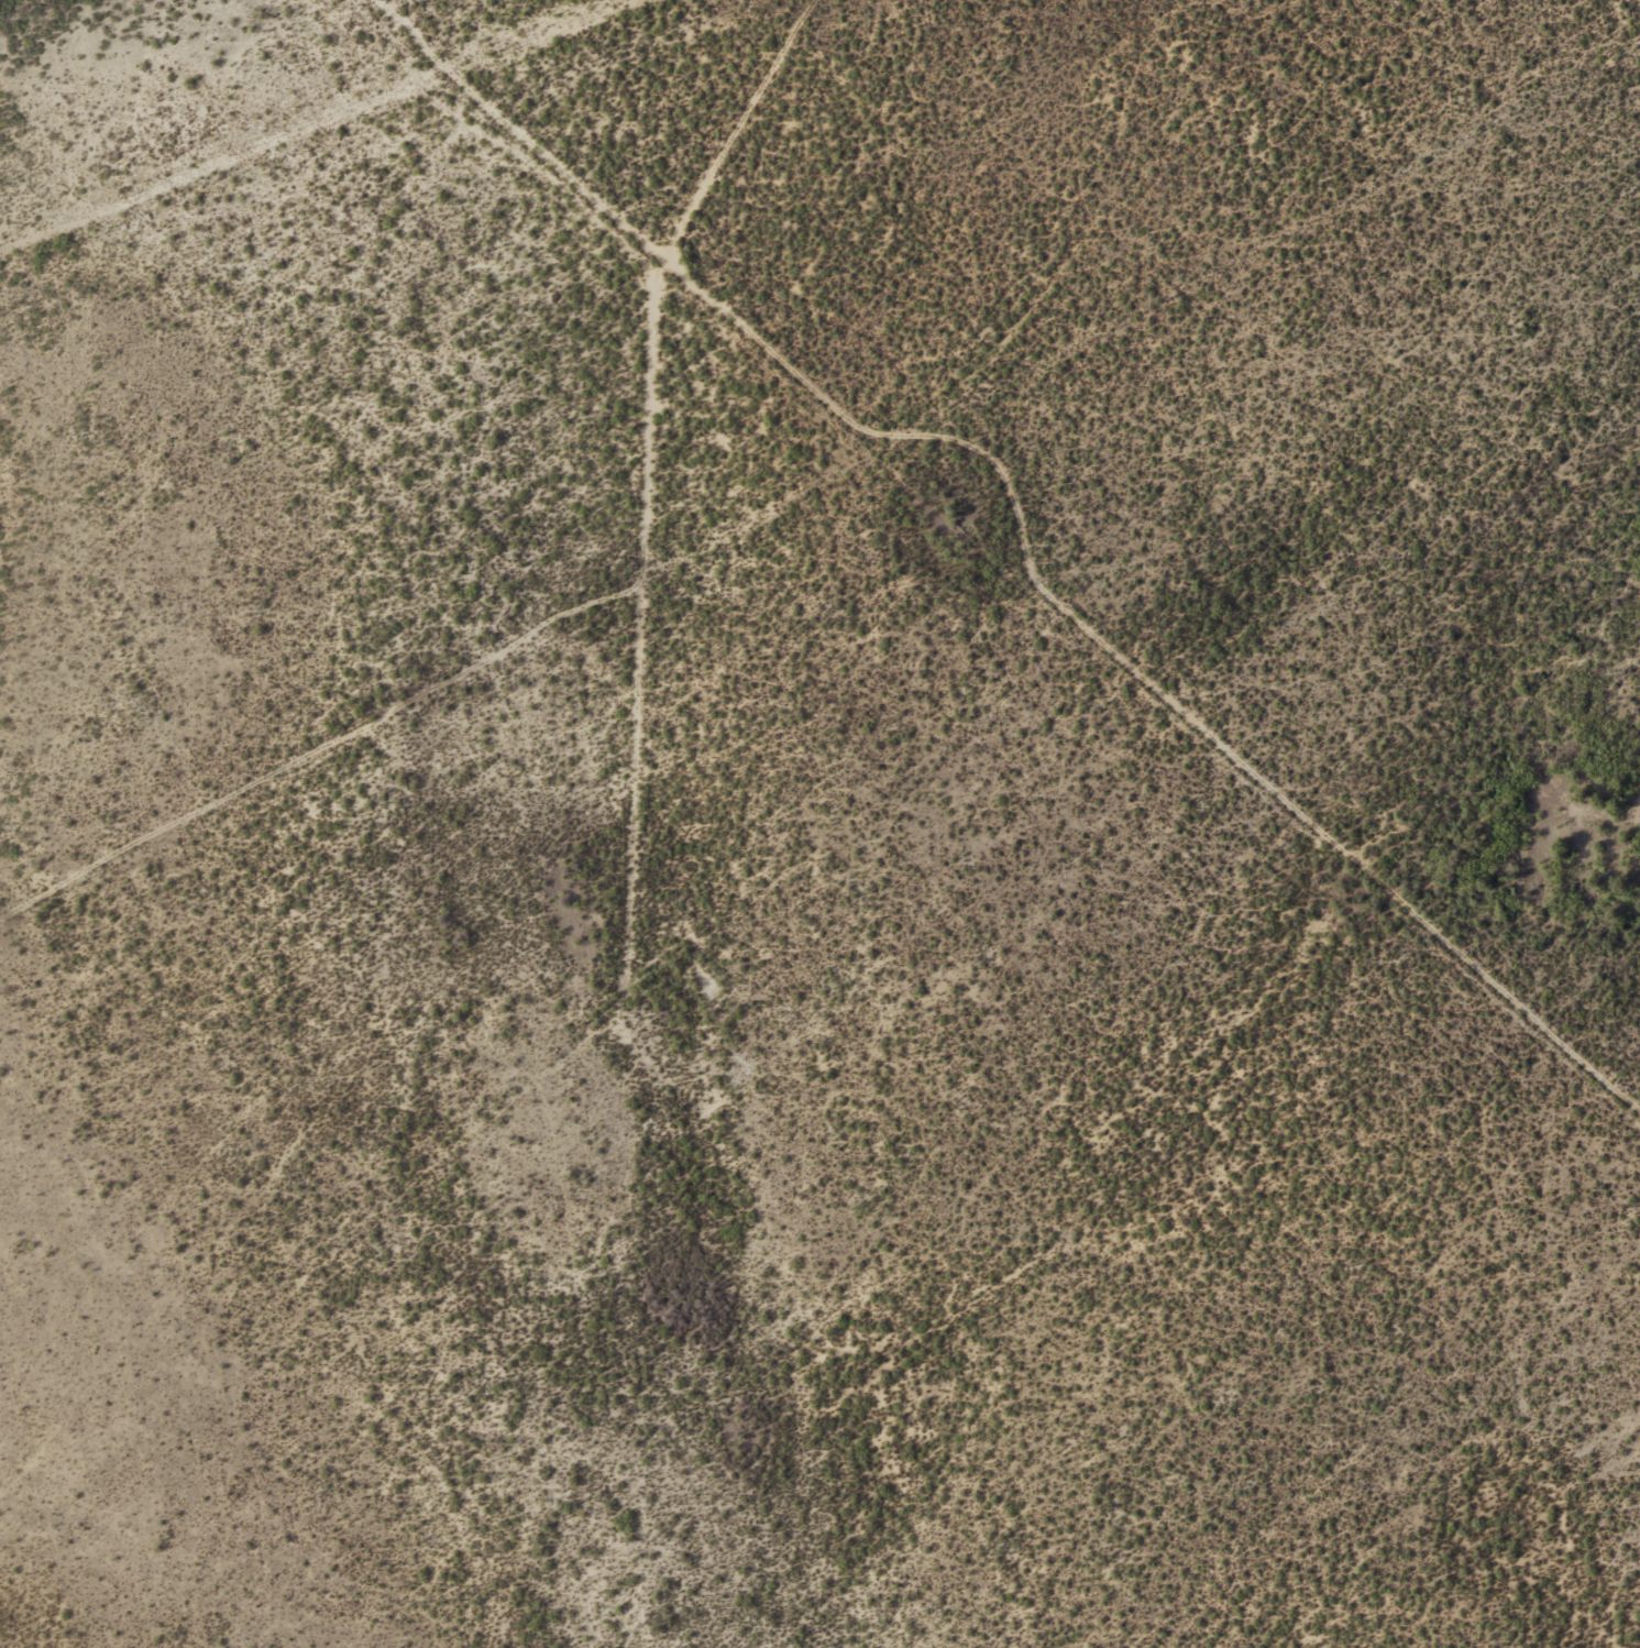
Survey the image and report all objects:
power tower: (488, 51)
power tower: (122, 195)

